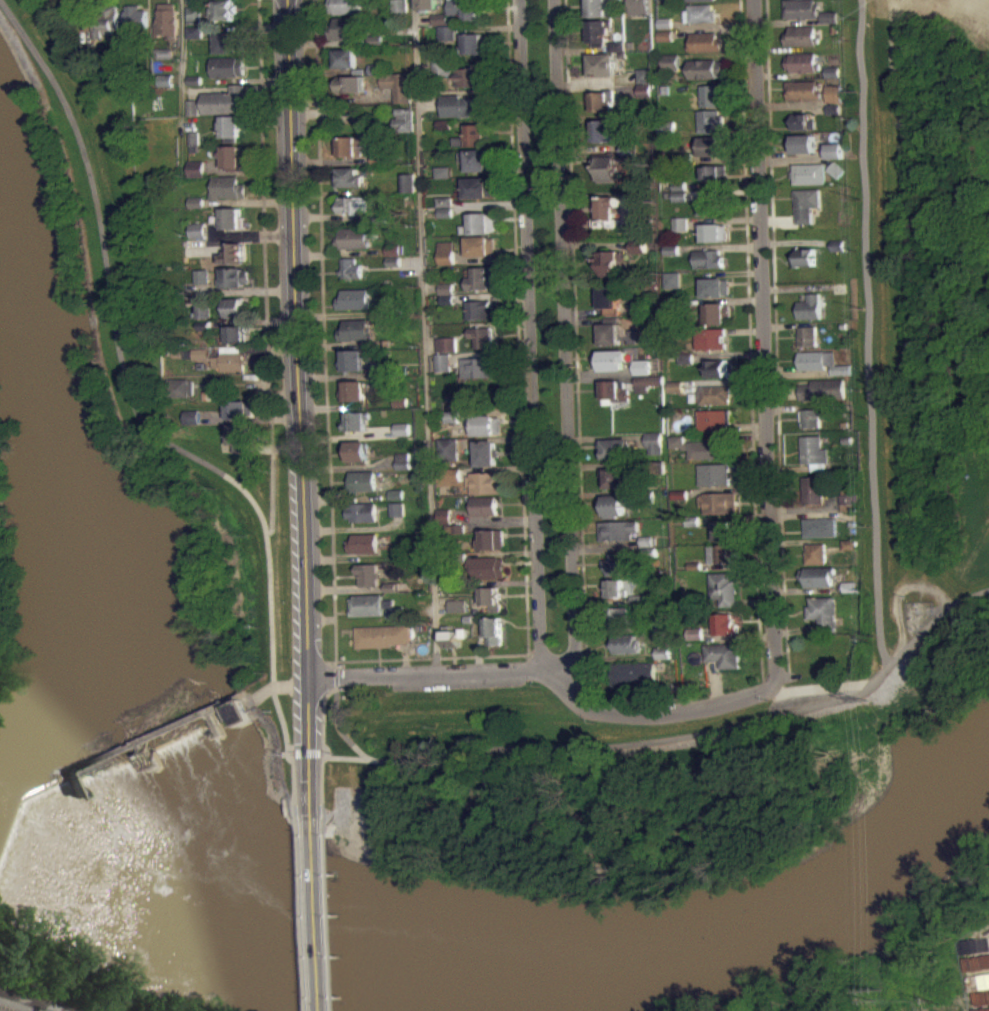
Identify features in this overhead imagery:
building: (697, 0)
building: (663, 2)
building: (427, 4)
building: (401, 5)
building: (344, 6)
building: (638, 6)
building: (602, 7)
building: (801, 8)
building: (220, 9)
building: (466, 9)
building: (700, 13)
building: (190, 14)
building: (132, 17)
building: (829, 17)
building: (102, 18)
building: (440, 18)
building: (163, 20)
building: (665, 22)
building: (440, 26)
building: (345, 27)
building: (834, 28)
building: (192, 31)
building: (446, 31)
building: (599, 31)
building: (665, 35)
building: (801, 35)
building: (192, 39)
building: (374, 39)
building: (446, 40)
building: (227, 42)
building: (665, 42)
building: (705, 42)
building: (472, 44)
building: (617, 45)
building: (83, 50)
building: (162, 52)
building: (623, 53)
building: (342, 58)
road: (178, 61)
building: (672, 61)
building: (802, 61)
building: (603, 64)
building: (224, 66)
building: (442, 66)
building: (375, 67)
building: (706, 68)
building: (672, 69)
building: (832, 71)
building: (440, 74)
building: (472, 74)
building: (645, 75)
building: (162, 79)
building: (192, 79)
building: (833, 79)
building: (350, 83)
building: (399, 85)
building: (678, 86)
building: (645, 89)
building: (665, 89)
building: (803, 89)
building: (350, 91)
building: (835, 93)
building: (711, 95)
building: (646, 97)
building: (223, 99)
building: (599, 102)
building: (464, 105)
building: (190, 107)
building: (834, 109)
building: (403, 119)
building: (603, 120)
building: (710, 120)
building: (803, 121)
building: (444, 123)
building: (229, 126)
building: (668, 128)
building: (803, 128)
building: (478, 134)
building: (192, 137)
building: (603, 138)
building: (803, 143)
building: (351, 145)
building: (713, 145)
building: (460, 148)
building: (629, 148)
building: (836, 150)
building: (629, 156)
building: (232, 157)
building: (377, 158)
building: (836, 158)
building: (478, 159)
building: (195, 168)
building: (609, 168)
building: (837, 169)
building: (443, 171)
building: (715, 171)
building: (808, 173)
building: (347, 176)
building: (443, 179)
building: (715, 180)
building: (407, 182)
building: (680, 185)
building: (228, 186)
building: (479, 186)
building: (680, 195)
building: (444, 200)
building: (197, 201)
building: (351, 203)
building: (712, 203)
building: (805, 203)
building: (608, 207)
building: (196, 209)
building: (351, 211)
building: (445, 211)
building: (231, 218)
building: (480, 223)
building: (681, 223)
building: (198, 229)
building: (680, 231)
building: (714, 231)
building: (198, 237)
building: (352, 238)
building: (715, 240)
building: (638, 244)
building: (481, 245)
building: (838, 245)
building: (393, 249)
building: (672, 249)
building: (233, 252)
building: (447, 252)
building: (639, 253)
building: (806, 257)
building: (708, 258)
building: (393, 260)
building: (610, 263)
road: (263, 268)
building: (350, 268)
building: (201, 276)
building: (234, 276)
building: (479, 277)
building: (672, 279)
building: (201, 284)
building: (672, 287)
building: (716, 287)
building: (840, 287)
building: (446, 288)
building: (355, 298)
building: (447, 298)
building: (609, 299)
building: (674, 303)
building: (810, 306)
building: (232, 307)
building: (480, 309)
building: (202, 310)
building: (716, 312)
building: (202, 325)
building: (357, 329)
building: (615, 332)
building: (234, 333)
road: (322, 333)
road: (870, 333)
road: (527, 334)
building: (482, 336)
building: (808, 336)
road: (424, 337)
building: (710, 339)
road: (764, 340)
building: (446, 343)
road: (749, 344)
road: (776, 347)
road: (566, 349)
building: (446, 351)
building: (196, 353)
road: (576, 353)
building: (229, 357)
building: (686, 358)
building: (816, 359)
building: (352, 360)
building: (611, 360)
building: (199, 361)
building: (442, 361)
road: (126, 364)
building: (642, 366)
building: (478, 367)
building: (717, 367)
building: (841, 370)
building: (642, 374)
building: (719, 375)
building: (647, 382)
building: (181, 386)
building: (675, 386)
building: (823, 389)
building: (354, 390)
building: (614, 390)
building: (648, 390)
building: (675, 394)
building: (715, 394)
building: (399, 401)
building: (238, 408)
road: (298, 408)
building: (451, 415)
building: (812, 416)
building: (715, 419)
building: (355, 420)
building: (188, 423)
building: (485, 424)
road: (520, 425)
building: (401, 428)
building: (354, 429)
building: (239, 436)
building: (401, 436)
building: (678, 441)
building: (655, 442)
building: (613, 447)
building: (448, 448)
building: (677, 449)
building: (710, 449)
building: (354, 450)
building: (485, 452)
building: (814, 452)
building: (617, 456)
building: (659, 467)
building: (402, 468)
building: (450, 474)
building: (715, 474)
building: (613, 477)
building: (362, 479)
building: (487, 482)
building: (812, 490)
building: (679, 493)
building: (849, 498)
building: (395, 501)
building: (720, 502)
building: (484, 505)
building: (614, 505)
building: (395, 509)
building: (849, 510)
building: (360, 511)
building: (444, 515)
building: (395, 516)
building: (692, 520)
building: (443, 523)
building: (851, 523)
building: (821, 526)
building: (456, 528)
building: (618, 529)
building: (723, 529)
building: (490, 538)
building: (723, 538)
building: (648, 540)
building: (362, 542)
building: (850, 543)
building: (651, 551)
building: (721, 553)
building: (817, 553)
building: (622, 562)
building: (694, 565)
building: (487, 566)
building: (366, 573)
building: (818, 576)
building: (390, 586)
building: (850, 586)
building: (616, 587)
building: (723, 588)
building: (615, 595)
building: (491, 597)
building: (639, 598)
building: (367, 604)
building: (457, 605)
building: (823, 612)
building: (394, 613)
building: (457, 613)
building: (623, 615)
building: (468, 618)
building: (723, 624)
building: (658, 625)
building: (493, 627)
building: (694, 633)
building: (380, 635)
building: (453, 636)
building: (624, 644)
building: (661, 652)
building: (722, 654)
building: (819, 656)
building: (661, 660)
building: (629, 673)
road: (333, 675)
road: (550, 675)
road: (280, 683)
road: (334, 686)
road: (814, 690)
road: (282, 725)
road: (623, 745)
building: (135, 753)
dam: (135, 753)
road: (307, 754)
road: (345, 757)
road: (294, 785)
road: (322, 785)
dam: (21, 822)
road: (300, 914)
road: (315, 914)
road: (326, 914)
river: (258, 928)
wastewater plant: (942, 950)

